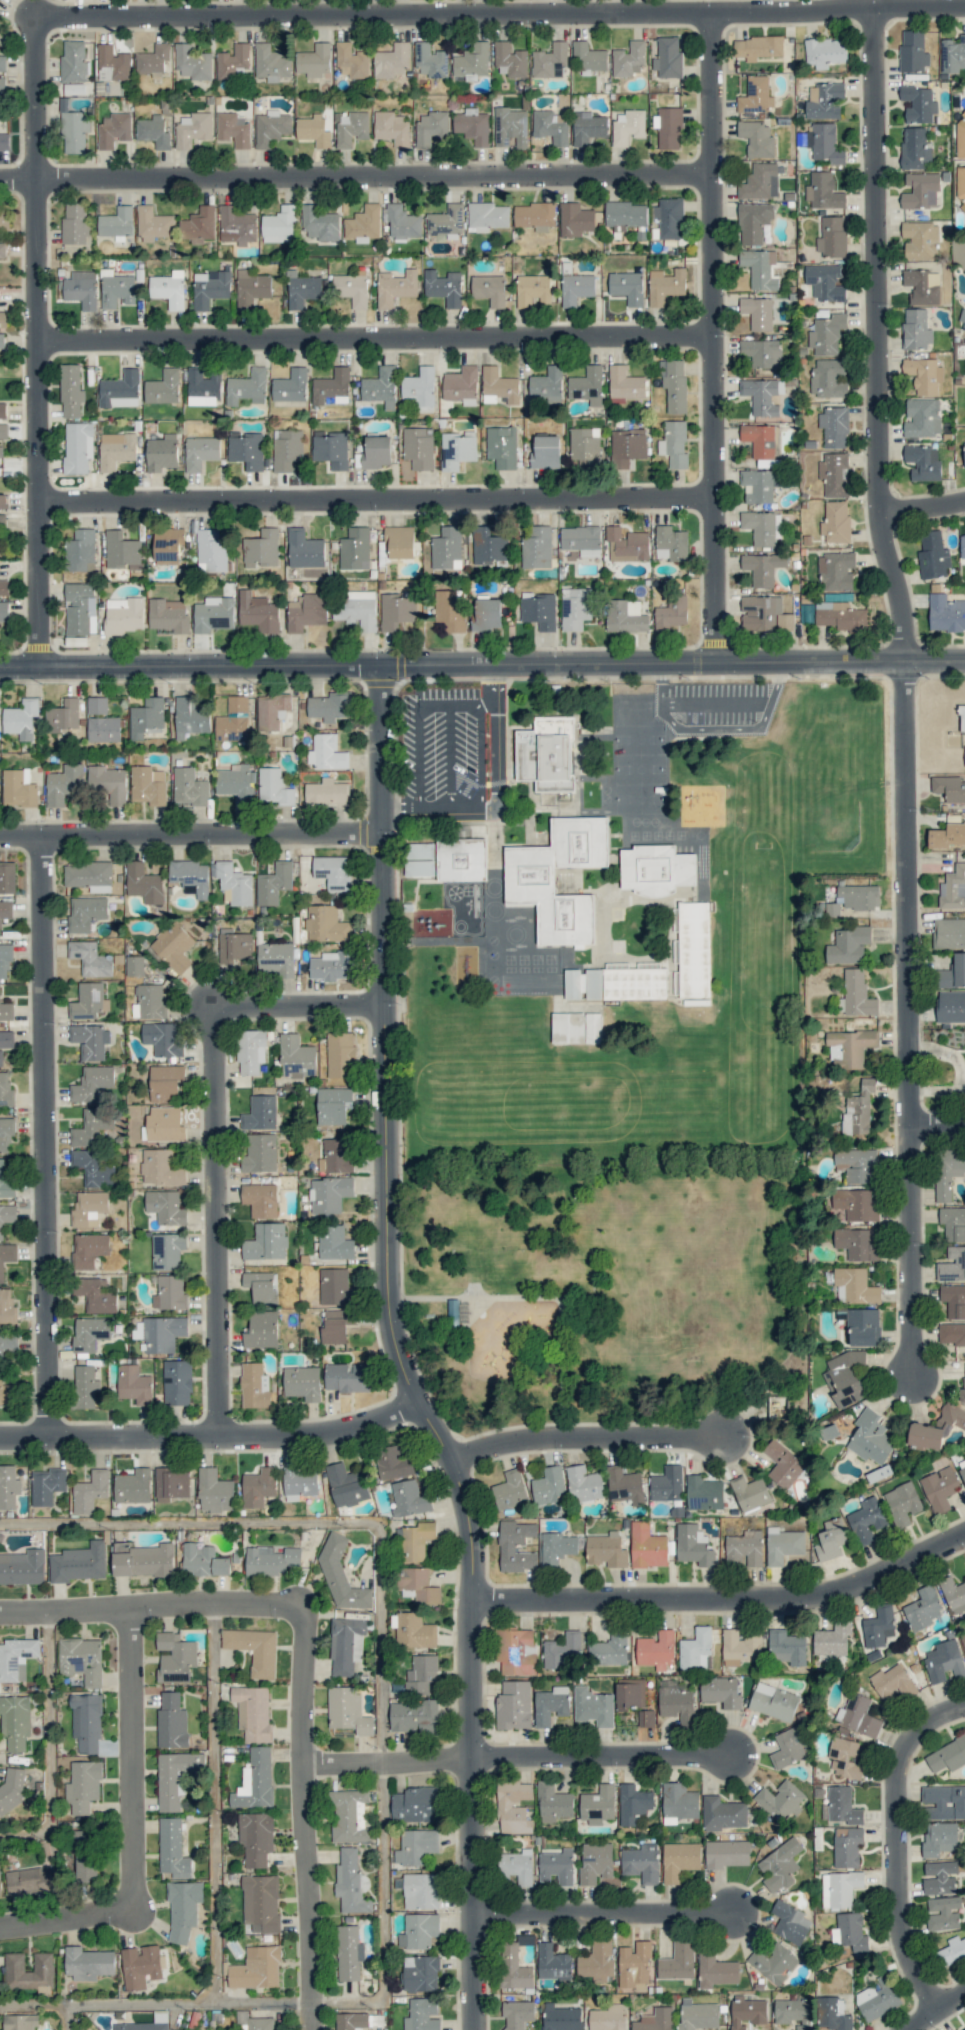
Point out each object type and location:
road: (500, 14)
building: (757, 47)
building: (825, 52)
building: (912, 52)
building: (953, 54)
building: (588, 57)
building: (668, 58)
building: (628, 59)
building: (153, 60)
building: (314, 60)
building: (472, 60)
building: (509, 60)
building: (549, 60)
building: (72, 61)
building: (351, 61)
building: (391, 61)
building: (430, 61)
building: (2, 62)
building: (193, 62)
building: (233, 62)
building: (112, 63)
building: (270, 63)
building: (2, 86)
building: (77, 88)
building: (755, 95)
building: (824, 100)
building: (918, 103)
building: (472, 126)
building: (550, 126)
building: (627, 126)
building: (271, 127)
building: (431, 127)
building: (510, 127)
building: (587, 127)
building: (668, 127)
building: (193, 128)
building: (350, 128)
building: (392, 128)
building: (114, 129)
building: (233, 129)
building: (313, 130)
building: (74, 131)
building: (153, 131)
building: (960, 132)
building: (757, 138)
building: (4, 142)
building: (822, 142)
building: (914, 148)
road: (357, 177)
building: (760, 182)
building: (920, 190)
building: (961, 190)
building: (823, 191)
building: (624, 214)
building: (535, 215)
building: (486, 216)
building: (669, 217)
building: (4, 219)
building: (575, 219)
building: (446, 221)
building: (116, 222)
building: (401, 222)
building: (753, 222)
building: (75, 223)
building: (153, 224)
building: (320, 224)
building: (363, 224)
building: (198, 225)
building: (237, 225)
building: (279, 225)
building: (832, 236)
building: (919, 240)
building: (2, 250)
building: (759, 268)
building: (824, 282)
building: (665, 285)
building: (922, 286)
building: (210, 287)
building: (395, 287)
building: (444, 287)
building: (627, 287)
building: (251, 288)
building: (351, 288)
building: (576, 288)
building: (81, 289)
building: (169, 289)
building: (302, 289)
building: (489, 289)
building: (532, 289)
building: (117, 291)
building: (757, 312)
building: (962, 318)
building: (2, 319)
building: (916, 329)
building: (826, 334)
road: (717, 337)
road: (378, 339)
building: (2, 340)
road: (39, 342)
building: (762, 352)
building: (923, 374)
building: (828, 378)
building: (461, 383)
building: (625, 383)
building: (546, 385)
building: (587, 385)
building: (674, 385)
building: (290, 386)
building: (499, 386)
building: (163, 387)
building: (247, 387)
building: (381, 387)
building: (202, 388)
building: (332, 388)
building: (70, 390)
building: (119, 390)
building: (419, 390)
building: (762, 395)
building: (2, 410)
building: (922, 417)
building: (834, 427)
building: (3, 431)
building: (759, 439)
building: (674, 443)
building: (627, 446)
building: (78, 447)
building: (418, 447)
building: (502, 447)
building: (585, 447)
building: (331, 448)
building: (116, 449)
building: (246, 449)
building: (287, 449)
building: (457, 450)
building: (1, 451)
building: (162, 452)
building: (200, 452)
building: (376, 452)
building: (545, 452)
building: (964, 453)
building: (923, 462)
building: (834, 474)
building: (757, 485)
building: (3, 500)
road: (379, 501)
road: (923, 508)
building: (2, 521)
building: (835, 522)
building: (581, 540)
building: (400, 541)
building: (670, 543)
building: (167, 544)
building: (627, 544)
building: (488, 546)
building: (962, 546)
building: (536, 547)
building: (447, 548)
building: (121, 549)
building: (261, 549)
building: (304, 549)
building: (355, 549)
building: (80, 550)
building: (211, 550)
building: (932, 555)
building: (762, 567)
road: (893, 567)
building: (836, 571)
building: (4, 587)
building: (80, 608)
building: (575, 608)
building: (357, 609)
building: (450, 610)
building: (539, 610)
building: (3, 611)
building: (306, 611)
building: (397, 611)
building: (258, 612)
building: (671, 613)
building: (806, 613)
building: (946, 613)
building: (169, 614)
building: (213, 614)
building: (487, 614)
building: (764, 614)
building: (123, 615)
building: (625, 616)
building: (840, 616)
road: (482, 665)
road: (494, 684)
building: (97, 704)
building: (330, 706)
building: (272, 710)
building: (63, 716)
building: (147, 717)
building: (190, 717)
building: (21, 718)
road: (417, 718)
building: (962, 718)
building: (233, 720)
building: (104, 729)
building: (326, 752)
building: (546, 754)
road: (445, 755)
building: (964, 756)
road: (496, 760)
building: (108, 783)
building: (236, 783)
building: (64, 784)
building: (148, 785)
building: (189, 787)
building: (274, 787)
building: (949, 788)
building: (18, 789)
building: (326, 792)
road: (433, 807)
road: (193, 833)
building: (948, 836)
building: (420, 850)
building: (461, 859)
building: (419, 868)
building: (656, 869)
building: (333, 872)
building: (89, 875)
building: (7, 877)
building: (190, 877)
building: (529, 880)
building: (144, 883)
building: (232, 883)
building: (274, 883)
building: (953, 888)
building: (858, 896)
building: (5, 910)
building: (86, 913)
building: (325, 924)
building: (948, 933)
building: (848, 945)
building: (173, 946)
building: (235, 947)
building: (694, 949)
building: (91, 958)
building: (275, 958)
building: (5, 959)
building: (134, 965)
building: (331, 965)
building: (952, 972)
building: (625, 983)
building: (574, 984)
building: (0, 989)
building: (856, 994)
building: (88, 1001)
building: (150, 1001)
road: (301, 1005)
building: (951, 1006)
building: (6, 1011)
building: (576, 1028)
building: (162, 1039)
building: (90, 1040)
building: (5, 1042)
building: (849, 1047)
building: (251, 1051)
building: (340, 1054)
building: (296, 1057)
building: (165, 1082)
building: (92, 1083)
building: (6, 1090)
building: (333, 1105)
building: (858, 1109)
building: (260, 1113)
building: (165, 1124)
road: (938, 1126)
building: (92, 1127)
road: (46, 1132)
building: (6, 1133)
building: (259, 1152)
building: (336, 1155)
building: (857, 1165)
building: (93, 1168)
building: (160, 1168)
building: (947, 1172)
building: (6, 1182)
building: (329, 1193)
building: (260, 1199)
building: (856, 1203)
building: (165, 1207)
building: (89, 1208)
building: (7, 1216)
road: (217, 1218)
building: (953, 1223)
building: (266, 1242)
building: (334, 1242)
building: (857, 1243)
building: (89, 1249)
road: (912, 1249)
building: (167, 1251)
building: (6, 1256)
building: (952, 1265)
building: (854, 1286)
building: (262, 1287)
building: (335, 1287)
building: (169, 1293)
park: (590, 1293)
building: (96, 1295)
building: (953, 1300)
building: (7, 1307)
building: (452, 1312)
building: (335, 1327)
building: (863, 1327)
building: (262, 1329)
building: (90, 1333)
building: (160, 1333)
building: (952, 1333)
building: (7, 1347)
road: (398, 1355)
building: (347, 1377)
building: (845, 1377)
building: (963, 1380)
building: (177, 1382)
building: (302, 1382)
building: (134, 1384)
building: (254, 1385)
building: (85, 1386)
road: (488, 1387)
building: (5, 1391)
building: (937, 1428)
road: (211, 1432)
road: (587, 1436)
building: (870, 1437)
building: (393, 1462)
building: (783, 1464)
building: (962, 1473)
building: (300, 1482)
building: (170, 1483)
building: (584, 1483)
building: (667, 1484)
building: (46, 1485)
building: (346, 1485)
building: (549, 1485)
building: (624, 1485)
building: (133, 1486)
building: (258, 1486)
building: (8, 1487)
building: (939, 1488)
building: (509, 1490)
building: (90, 1491)
building: (214, 1491)
building: (750, 1492)
building: (704, 1493)
building: (409, 1498)
building: (902, 1503)
building: (866, 1520)
building: (831, 1539)
building: (416, 1540)
building: (783, 1544)
building: (694, 1545)
building: (647, 1546)
building: (507, 1547)
building: (555, 1548)
building: (745, 1548)
building: (606, 1550)
building: (142, 1559)
building: (204, 1560)
building: (271, 1560)
building: (78, 1562)
building: (22, 1567)
building: (341, 1575)
building: (418, 1585)
building: (953, 1594)
road: (150, 1599)
road: (723, 1599)
building: (923, 1609)
building: (878, 1627)
building: (414, 1630)
building: (963, 1639)
building: (832, 1640)
building: (346, 1645)
building: (740, 1647)
building: (787, 1647)
building: (254, 1649)
building: (609, 1649)
building: (656, 1649)
building: (696, 1649)
building: (562, 1650)
building: (516, 1651)
building: (175, 1657)
building: (16, 1658)
building: (81, 1659)
building: (944, 1661)
building: (421, 1674)
building: (893, 1683)
building: (721, 1691)
building: (630, 1693)
building: (773, 1701)
building: (678, 1704)
building: (513, 1705)
building: (551, 1705)
building: (593, 1707)
building: (347, 1710)
building: (253, 1712)
building: (858, 1715)
building: (414, 1716)
building: (646, 1718)
building: (15, 1721)
building: (172, 1721)
building: (86, 1722)
building: (789, 1747)
road: (134, 1751)
road: (599, 1753)
building: (947, 1755)
road: (386, 1757)
building: (844, 1757)
road: (383, 1765)
building: (176, 1777)
building: (255, 1780)
building: (83, 1785)
building: (13, 1790)
road: (214, 1799)
building: (780, 1800)
building: (553, 1802)
building: (678, 1802)
building: (943, 1802)
building: (633, 1803)
building: (415, 1804)
building: (598, 1804)
building: (842, 1805)
building: (514, 1806)
building: (722, 1813)
road: (305, 1815)
building: (349, 1815)
building: (256, 1837)
building: (939, 1838)
building: (416, 1846)
building: (847, 1846)
road: (898, 1847)
building: (173, 1849)
building: (726, 1853)
building: (84, 1857)
building: (680, 1859)
building: (596, 1862)
building: (642, 1862)
building: (779, 1865)
building: (517, 1866)
building: (557, 1866)
building: (940, 1877)
building: (32, 1881)
building: (350, 1882)
building: (0, 1886)
building: (840, 1888)
building: (421, 1890)
building: (261, 1903)
building: (183, 1908)
road: (602, 1912)
building: (943, 1913)
road: (70, 1920)
building: (790, 1922)
building: (419, 1930)
building: (850, 1931)
building: (952, 1951)
building: (349, 1952)
building: (14, 1961)
building: (597, 1961)
building: (678, 1961)
building: (553, 1962)
building: (88, 1963)
building: (774, 1963)
building: (634, 1965)
building: (140, 1967)
building: (256, 1968)
building: (514, 1968)
building: (716, 1969)
building: (420, 1973)
building: (878, 1998)
building: (791, 2010)
building: (747, 2012)
road: (939, 2012)
building: (422, 2014)
building: (517, 2014)
building: (697, 2014)
building: (832, 2014)
road: (70, 2016)
building: (561, 2017)
building: (608, 2017)
building: (656, 2019)
building: (21, 2021)
building: (254, 2021)
building: (351, 2021)
building: (141, 2026)
building: (963, 2029)

